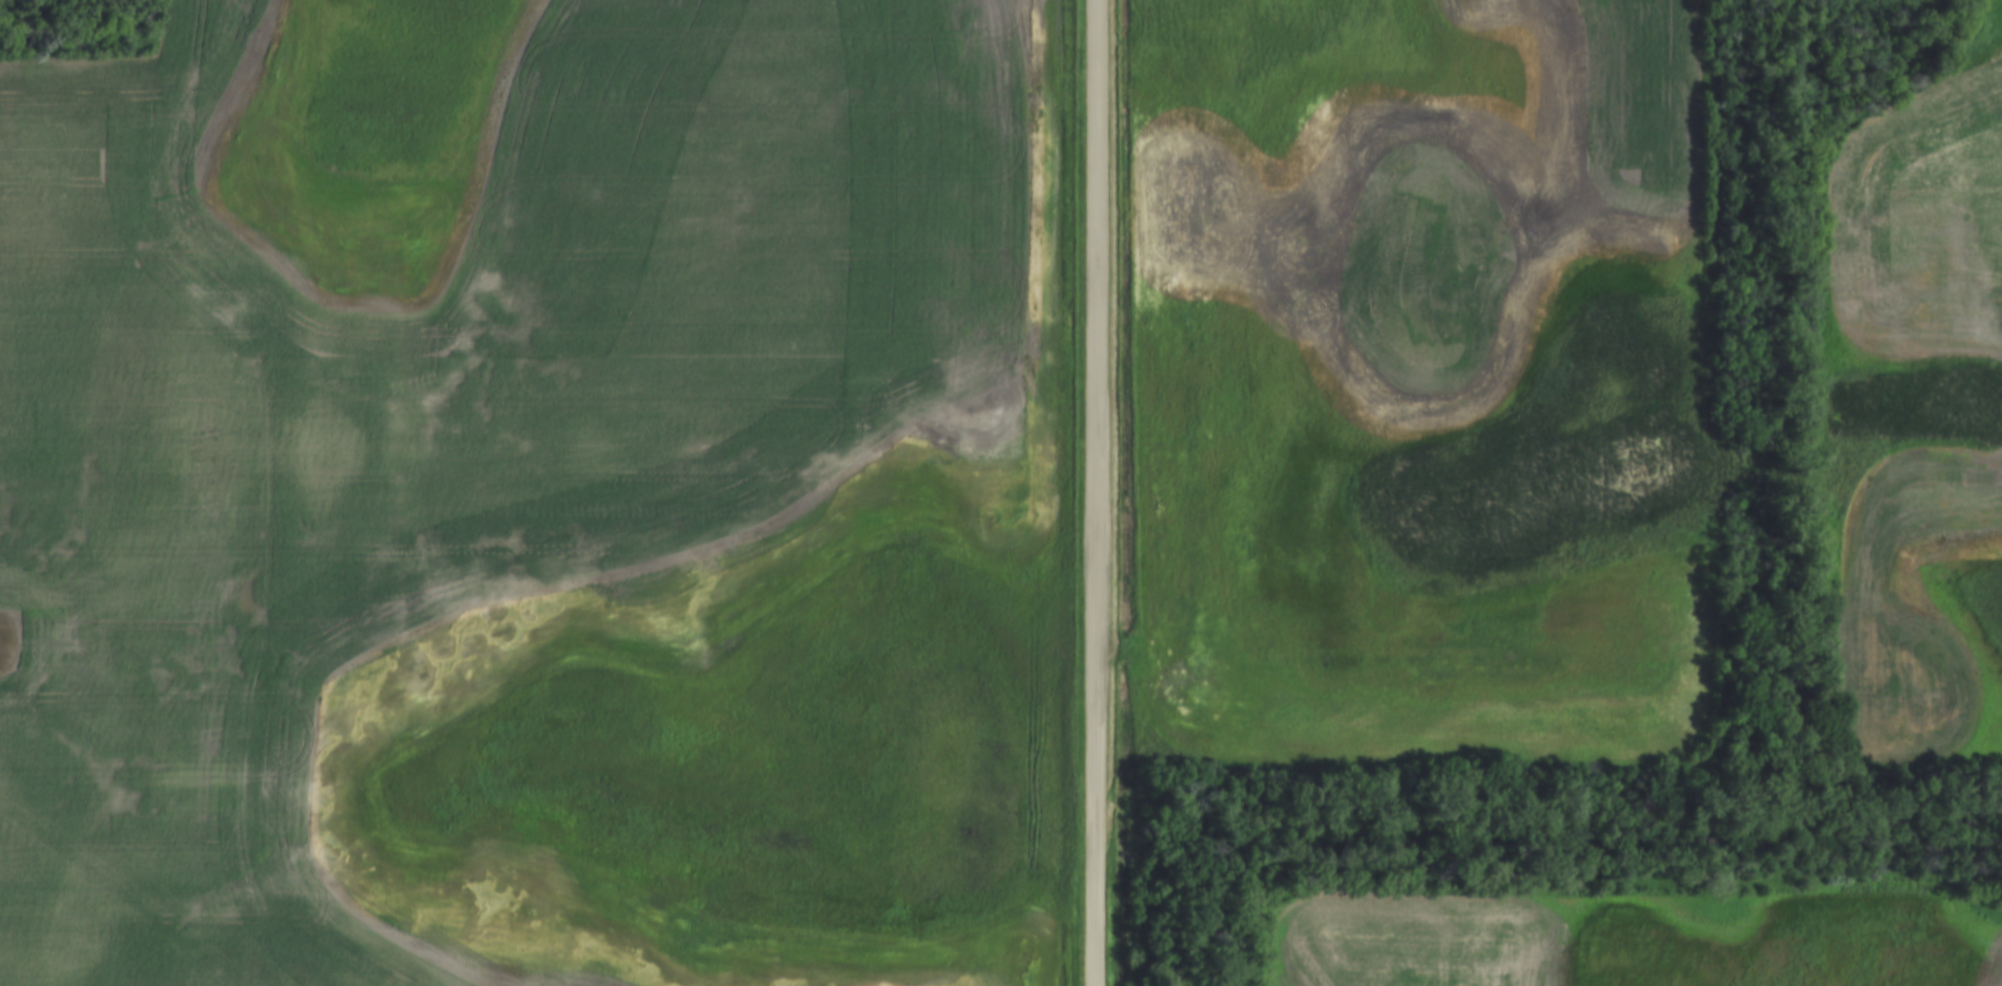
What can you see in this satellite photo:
road: (1105, 493)

